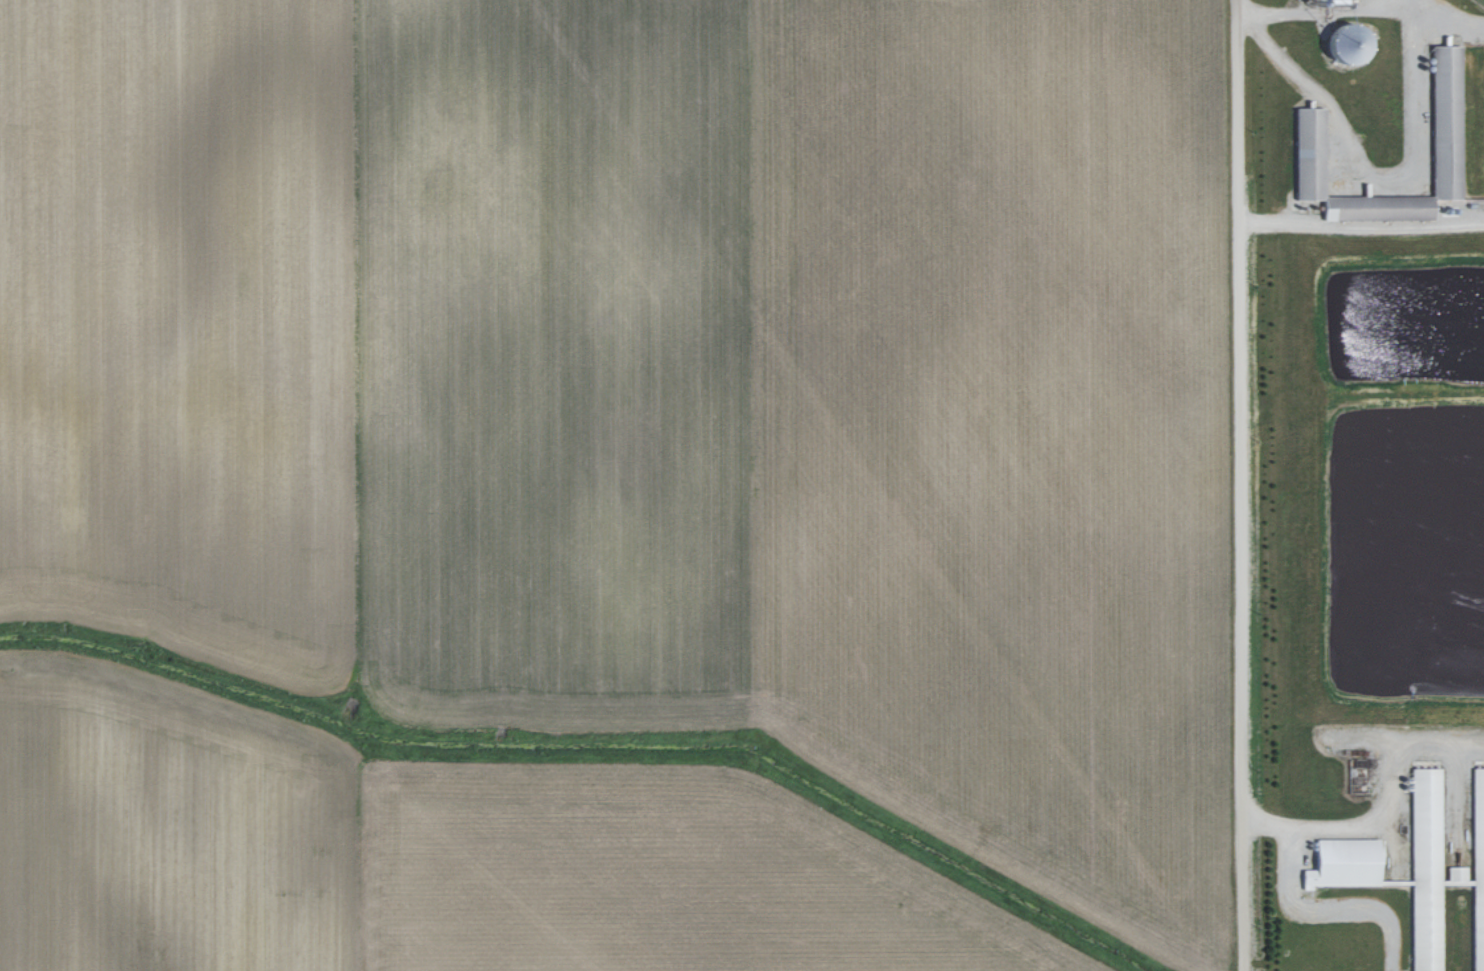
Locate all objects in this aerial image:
road: (1450, 15)
building: (1306, 151)
road: (1370, 177)
road: (1358, 223)
road: (1233, 485)
building: (1424, 868)
building: (1454, 874)

